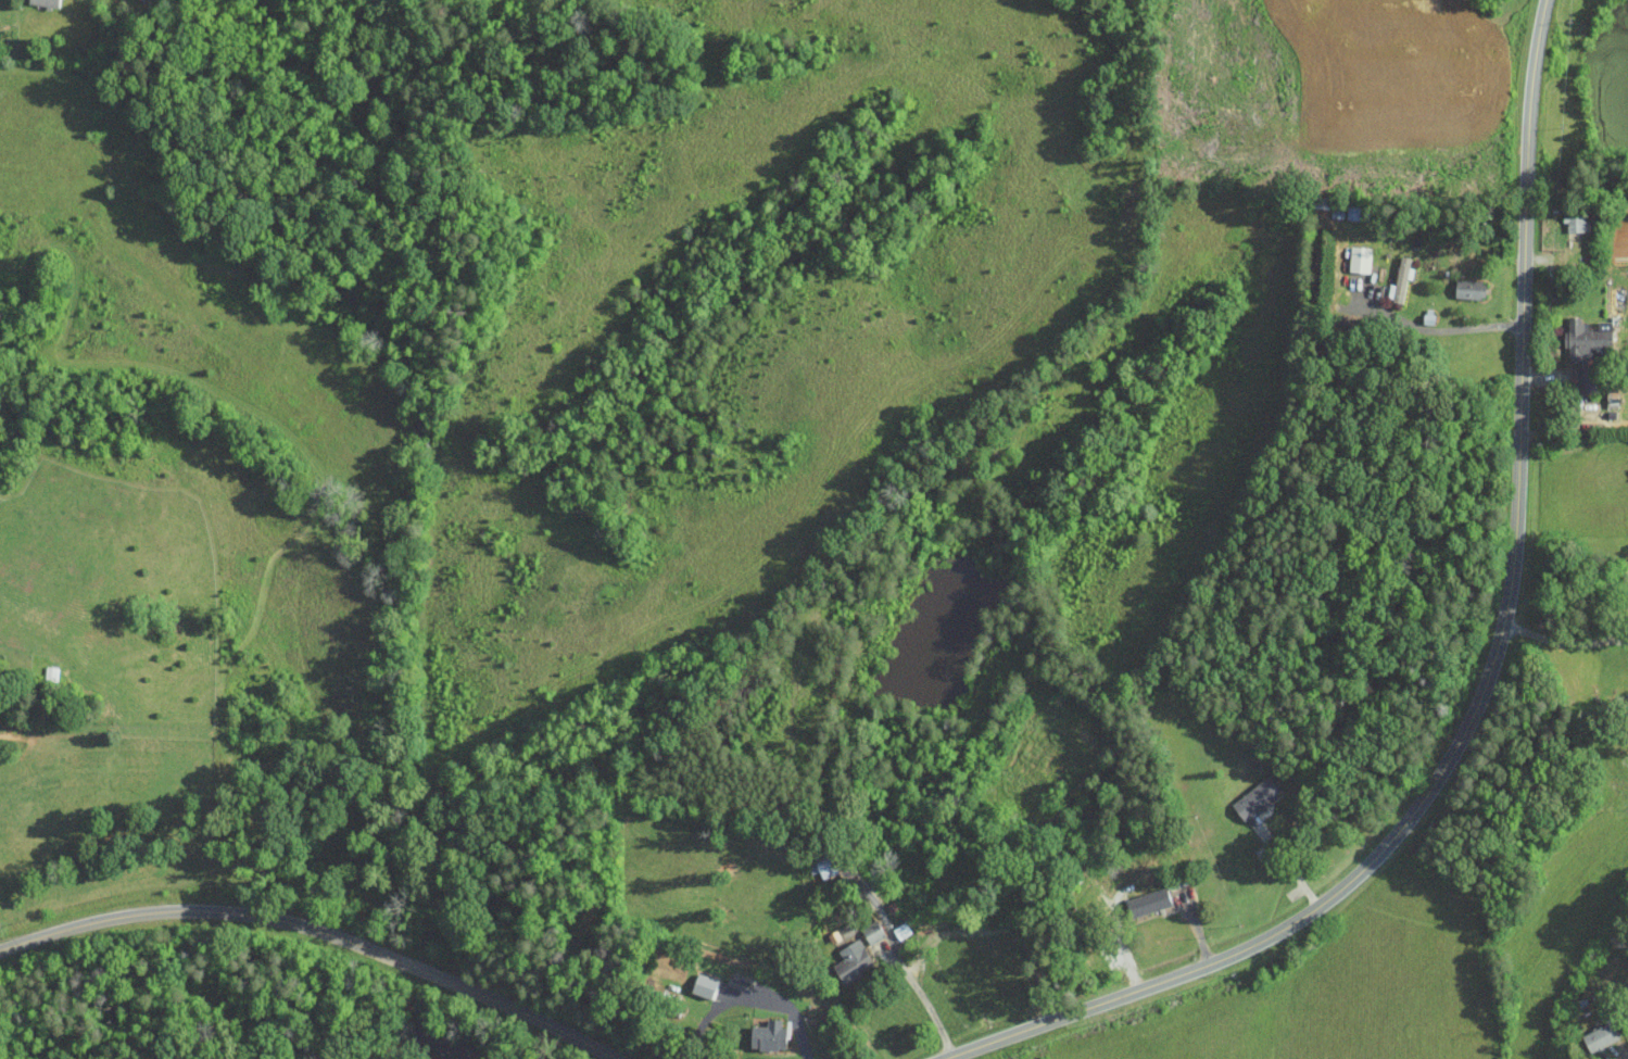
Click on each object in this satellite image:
building: (46, 2)
building: (1577, 223)
building: (1401, 280)
building: (1472, 289)
road: (1436, 330)
building: (1588, 338)
building: (1590, 379)
road: (1565, 642)
road: (1488, 681)
building: (1258, 797)
road: (1288, 865)
building: (1150, 902)
road: (317, 930)
road: (958, 930)
road: (1120, 931)
building: (874, 932)
building: (854, 961)
building: (705, 985)
road: (752, 996)
building: (770, 1036)
building: (1601, 1036)

